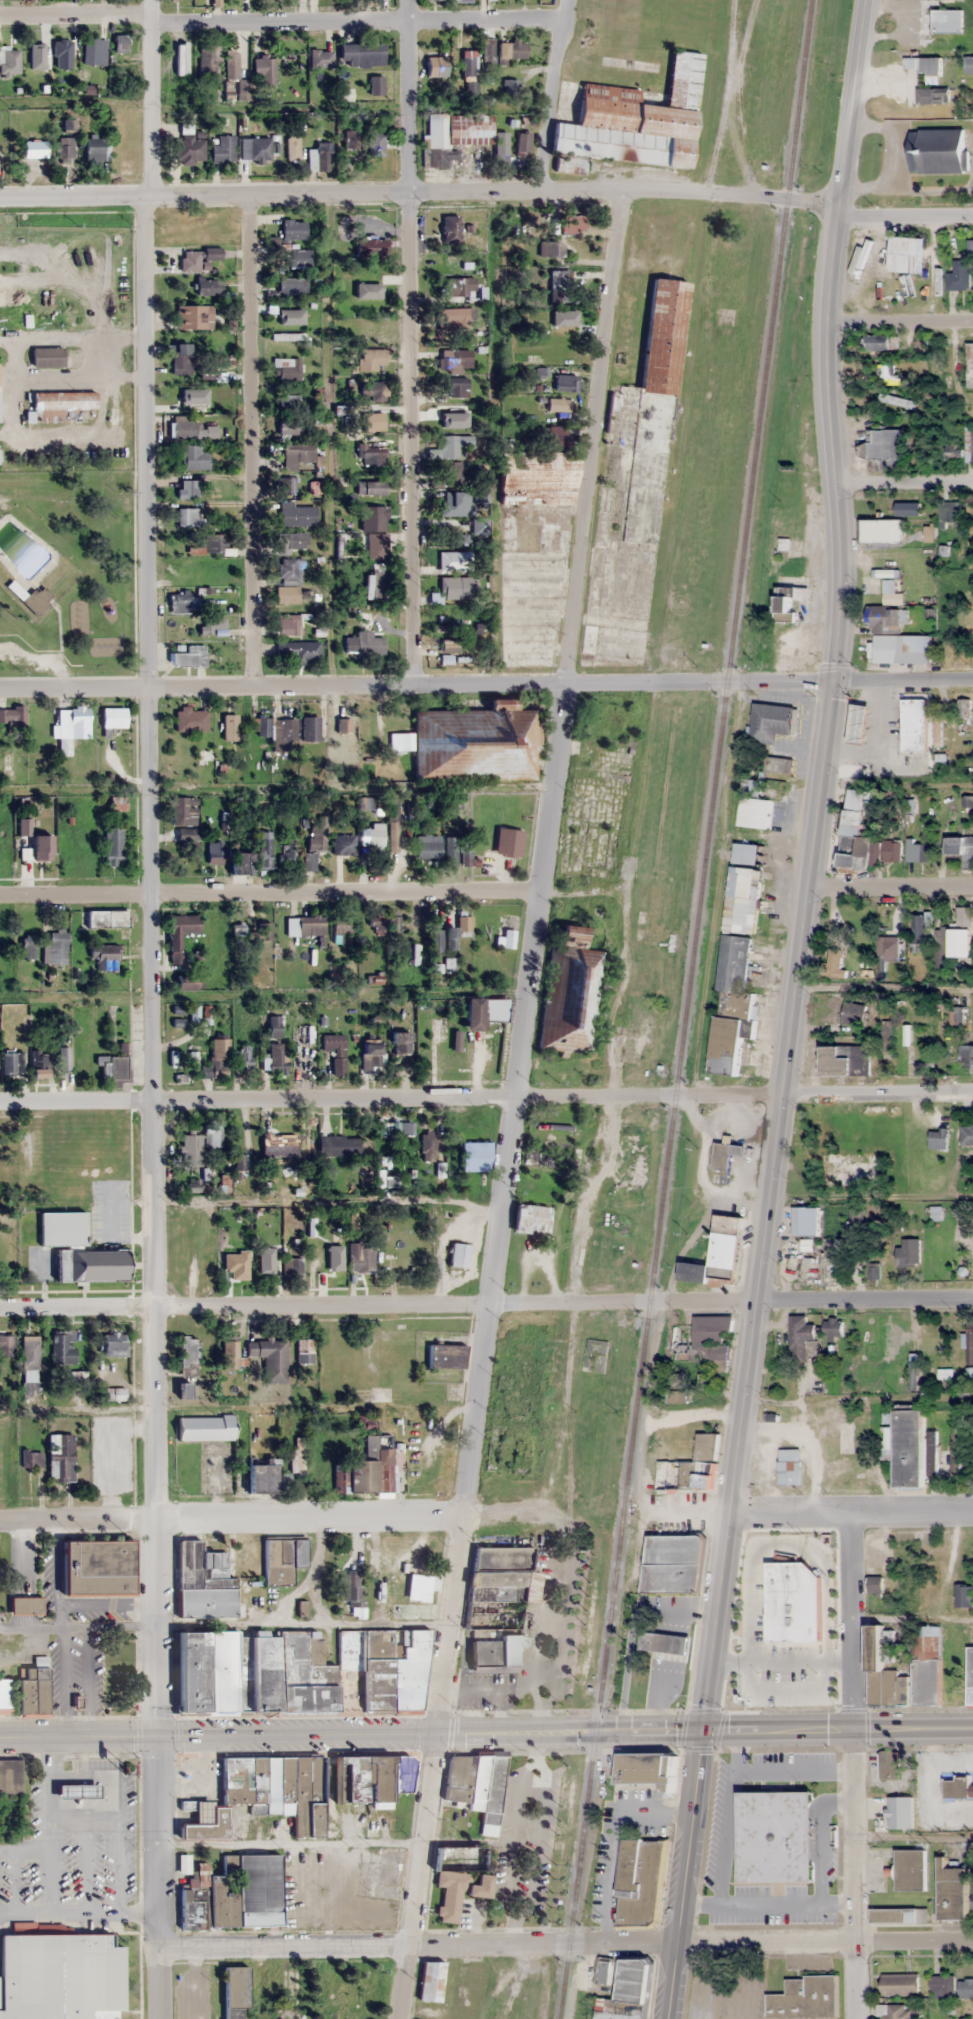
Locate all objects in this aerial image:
building: (947, 21)
road: (282, 23)
building: (119, 43)
building: (35, 47)
building: (504, 51)
building: (91, 53)
building: (362, 54)
building: (63, 55)
building: (320, 58)
building: (207, 59)
building: (10, 61)
building: (182, 64)
building: (968, 64)
building: (468, 65)
building: (436, 66)
building: (929, 66)
building: (264, 70)
building: (376, 85)
building: (510, 87)
road: (553, 95)
building: (932, 96)
road: (151, 98)
building: (632, 122)
building: (454, 136)
building: (351, 139)
building: (523, 143)
building: (376, 144)
building: (292, 147)
building: (501, 147)
building: (189, 148)
building: (223, 149)
building: (255, 149)
building: (64, 150)
building: (96, 150)
building: (937, 151)
building: (31, 152)
building: (320, 157)
road: (418, 190)
road: (904, 207)
building: (573, 224)
building: (294, 229)
building: (450, 229)
building: (372, 247)
building: (551, 249)
building: (905, 254)
building: (197, 258)
building: (297, 258)
building: (959, 276)
building: (373, 279)
building: (205, 285)
building: (292, 285)
building: (559, 285)
building: (459, 289)
building: (293, 315)
building: (193, 316)
building: (452, 318)
road: (896, 319)
building: (569, 320)
building: (372, 328)
building: (288, 336)
building: (217, 339)
road: (411, 343)
building: (880, 343)
building: (920, 345)
building: (46, 356)
building: (371, 356)
building: (181, 359)
building: (454, 360)
building: (969, 365)
building: (286, 368)
building: (205, 372)
building: (651, 374)
building: (890, 376)
building: (563, 382)
building: (457, 387)
building: (372, 390)
building: (189, 399)
building: (897, 401)
building: (287, 402)
building: (59, 406)
building: (373, 421)
building: (183, 426)
building: (289, 426)
building: (559, 436)
road: (251, 438)
building: (971, 445)
building: (451, 446)
building: (887, 446)
building: (951, 451)
building: (296, 455)
building: (371, 455)
building: (453, 473)
building: (537, 477)
road: (904, 484)
building: (286, 485)
building: (370, 487)
building: (187, 488)
building: (455, 503)
building: (949, 512)
building: (297, 514)
building: (187, 516)
building: (373, 517)
building: (477, 527)
building: (879, 530)
building: (291, 540)
building: (209, 544)
building: (375, 546)
building: (455, 561)
building: (531, 568)
building: (186, 571)
building: (288, 580)
building: (374, 585)
building: (456, 587)
building: (30, 596)
building: (183, 602)
building: (787, 602)
building: (883, 619)
building: (210, 624)
building: (288, 625)
building: (528, 628)
building: (364, 643)
building: (902, 649)
building: (299, 651)
building: (198, 654)
traffic signals: (836, 680)
road: (904, 680)
road: (417, 686)
building: (964, 714)
building: (12, 715)
building: (113, 717)
building: (191, 719)
building: (72, 722)
building: (770, 722)
building: (858, 723)
building: (262, 724)
building: (914, 724)
building: (229, 727)
building: (288, 734)
building: (475, 743)
building: (778, 765)
building: (117, 803)
building: (753, 806)
building: (183, 810)
building: (853, 824)
building: (186, 834)
building: (374, 836)
building: (315, 838)
building: (508, 842)
building: (343, 844)
building: (113, 846)
building: (427, 846)
building: (41, 847)
building: (961, 849)
building: (450, 850)
building: (265, 851)
building: (214, 852)
building: (917, 852)
building: (287, 854)
building: (745, 854)
building: (401, 855)
building: (464, 860)
building: (239, 861)
road: (813, 866)
road: (892, 886)
road: (269, 894)
building: (742, 900)
building: (107, 918)
building: (393, 923)
building: (304, 924)
building: (375, 924)
building: (464, 927)
building: (340, 928)
building: (237, 929)
building: (919, 929)
building: (261, 933)
building: (179, 934)
building: (961, 934)
building: (507, 938)
building: (435, 939)
building: (57, 945)
building: (28, 946)
building: (941, 949)
building: (891, 950)
building: (103, 958)
road: (532, 961)
building: (834, 961)
road: (150, 966)
building: (374, 980)
building: (569, 993)
building: (824, 1000)
building: (731, 1006)
railway: (685, 1009)
building: (484, 1012)
building: (857, 1014)
building: (273, 1026)
building: (437, 1027)
building: (456, 1041)
building: (401, 1043)
building: (334, 1052)
building: (370, 1055)
building: (244, 1056)
building: (967, 1056)
building: (275, 1058)
building: (63, 1059)
building: (216, 1059)
building: (844, 1060)
building: (11, 1062)
building: (37, 1063)
building: (116, 1067)
road: (875, 1093)
road: (388, 1099)
building: (212, 1133)
building: (966, 1135)
building: (938, 1138)
building: (278, 1143)
building: (191, 1145)
building: (337, 1145)
building: (428, 1147)
building: (548, 1154)
building: (725, 1154)
building: (475, 1156)
building: (848, 1168)
building: (530, 1219)
building: (810, 1221)
building: (61, 1228)
building: (854, 1228)
building: (887, 1245)
building: (908, 1252)
building: (458, 1254)
building: (360, 1256)
building: (717, 1256)
building: (240, 1262)
building: (328, 1262)
building: (830, 1263)
building: (88, 1265)
building: (292, 1268)
road: (864, 1299)
road: (378, 1304)
building: (832, 1327)
building: (801, 1340)
building: (890, 1340)
building: (703, 1341)
building: (970, 1343)
building: (112, 1344)
building: (6, 1345)
building: (63, 1347)
building: (229, 1354)
building: (188, 1356)
building: (445, 1356)
building: (270, 1358)
building: (30, 1365)
building: (114, 1394)
building: (366, 1422)
building: (205, 1428)
building: (377, 1440)
building: (669, 1442)
building: (908, 1449)
building: (932, 1453)
building: (955, 1454)
building: (31, 1458)
building: (60, 1458)
building: (789, 1467)
building: (691, 1468)
building: (362, 1476)
building: (261, 1479)
building: (290, 1479)
road: (851, 1515)
road: (234, 1518)
building: (282, 1560)
building: (673, 1565)
building: (96, 1568)
building: (502, 1574)
building: (204, 1581)
building: (780, 1583)
building: (874, 1585)
building: (348, 1586)
building: (963, 1596)
building: (25, 1606)
road: (852, 1621)
building: (666, 1647)
building: (486, 1656)
building: (926, 1665)
building: (796, 1667)
building: (386, 1669)
building: (884, 1670)
building: (253, 1673)
building: (970, 1675)
building: (32, 1692)
building: (4, 1695)
road: (838, 1728)
traffic signals: (705, 1731)
road: (352, 1733)
traffic signals: (158, 1738)
building: (888, 1765)
building: (645, 1770)
road: (793, 1771)
building: (10, 1776)
building: (371, 1776)
building: (477, 1786)
building: (957, 1787)
building: (76, 1790)
gas station: (76, 1790)
building: (263, 1794)
building: (900, 1812)
road: (728, 1817)
road: (52, 1825)
building: (774, 1841)
building: (460, 1856)
building: (910, 1869)
road: (852, 1873)
road: (684, 1874)
road: (417, 1875)
road: (154, 1878)
building: (639, 1881)
building: (458, 1890)
building: (952, 1891)
building: (233, 1893)
building: (972, 1898)
road: (766, 1904)
road: (76, 1911)
building: (897, 1915)
road: (824, 1941)
road: (415, 1944)
building: (604, 1972)
building: (58, 1975)
building: (431, 1981)
building: (290, 1984)
building: (899, 1984)
building: (235, 1986)
building: (942, 1987)
building: (965, 1989)
building: (367, 1992)
building: (628, 1993)
building: (805, 1998)
building: (892, 2011)

